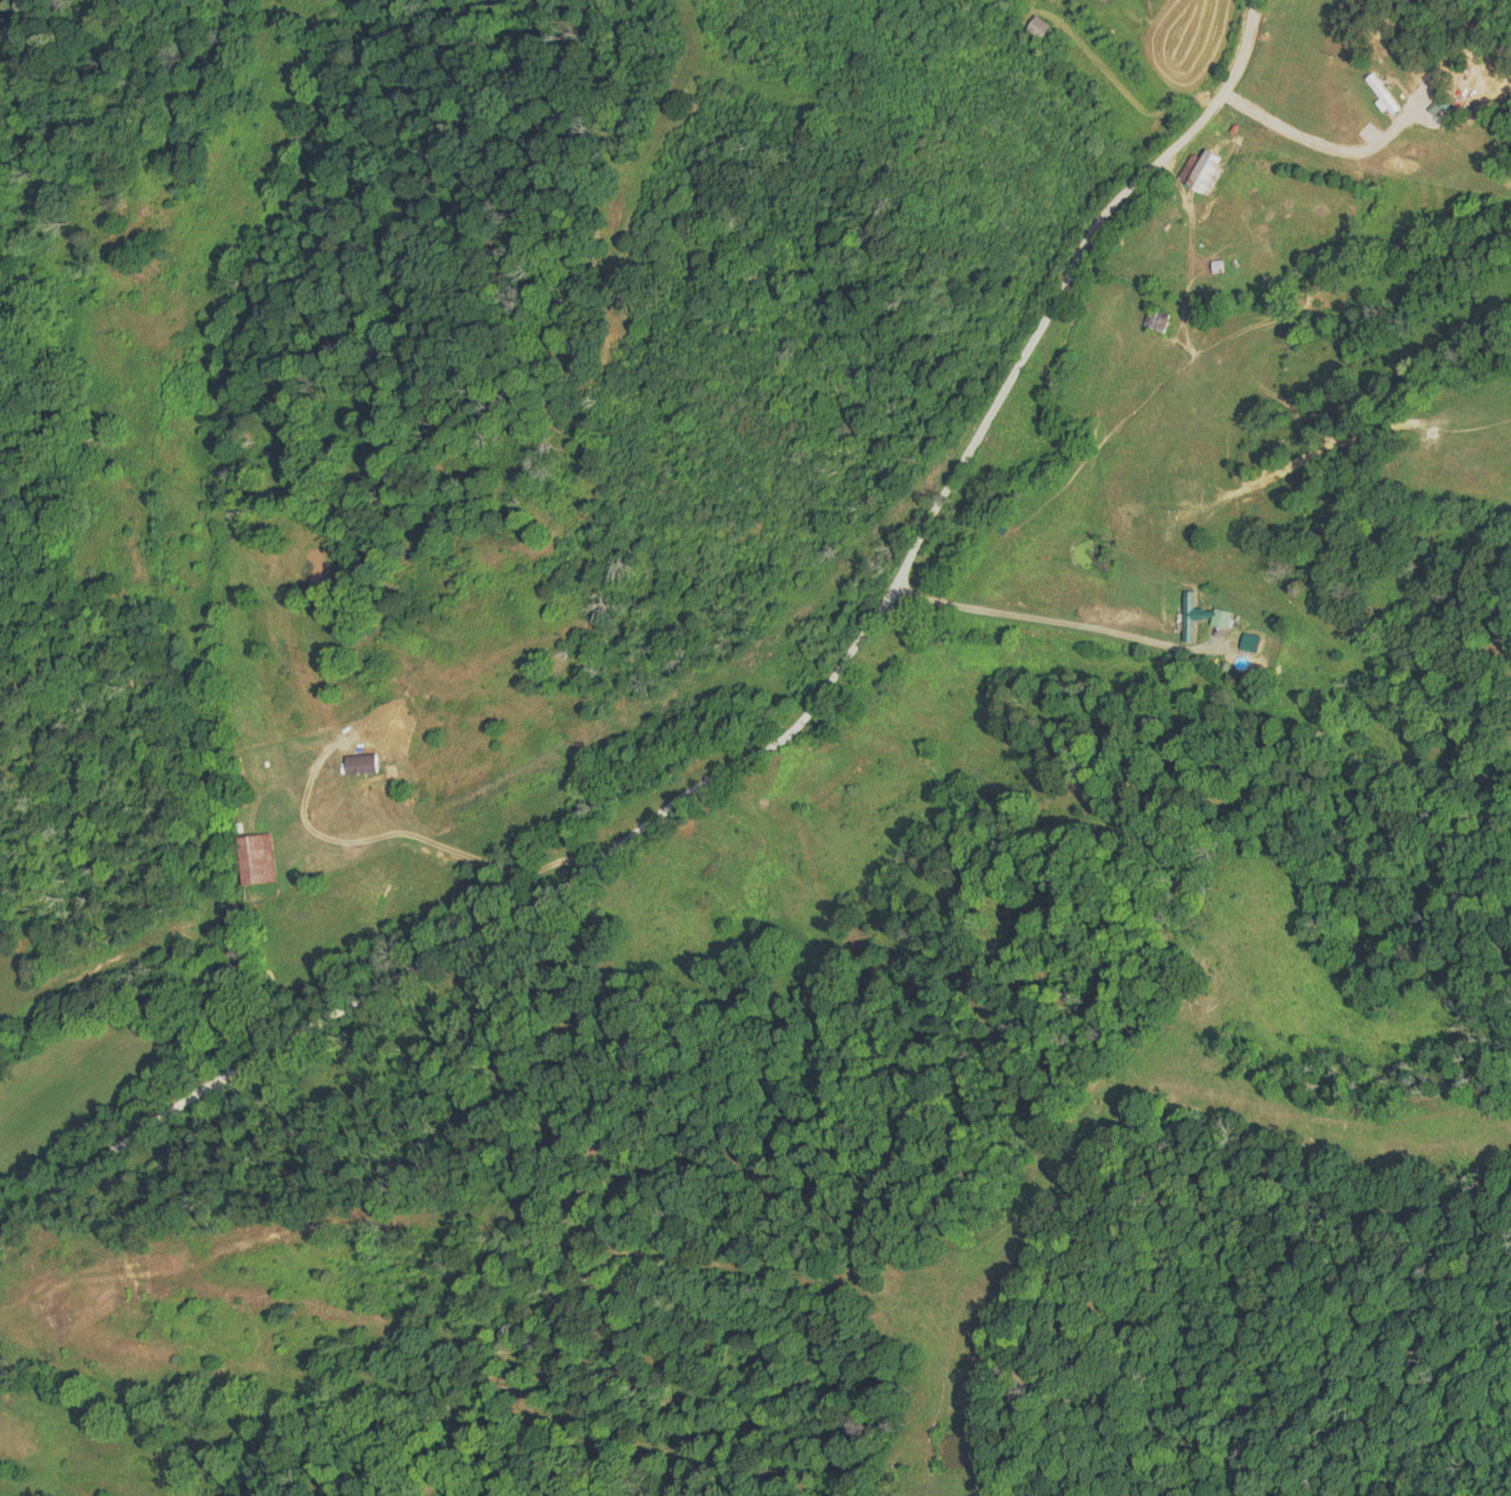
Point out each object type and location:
building: (1382, 95)
building: (1202, 172)
building: (1217, 266)
building: (1158, 321)
building: (1188, 617)
road: (397, 710)
road: (725, 729)
building: (360, 764)
building: (256, 859)

